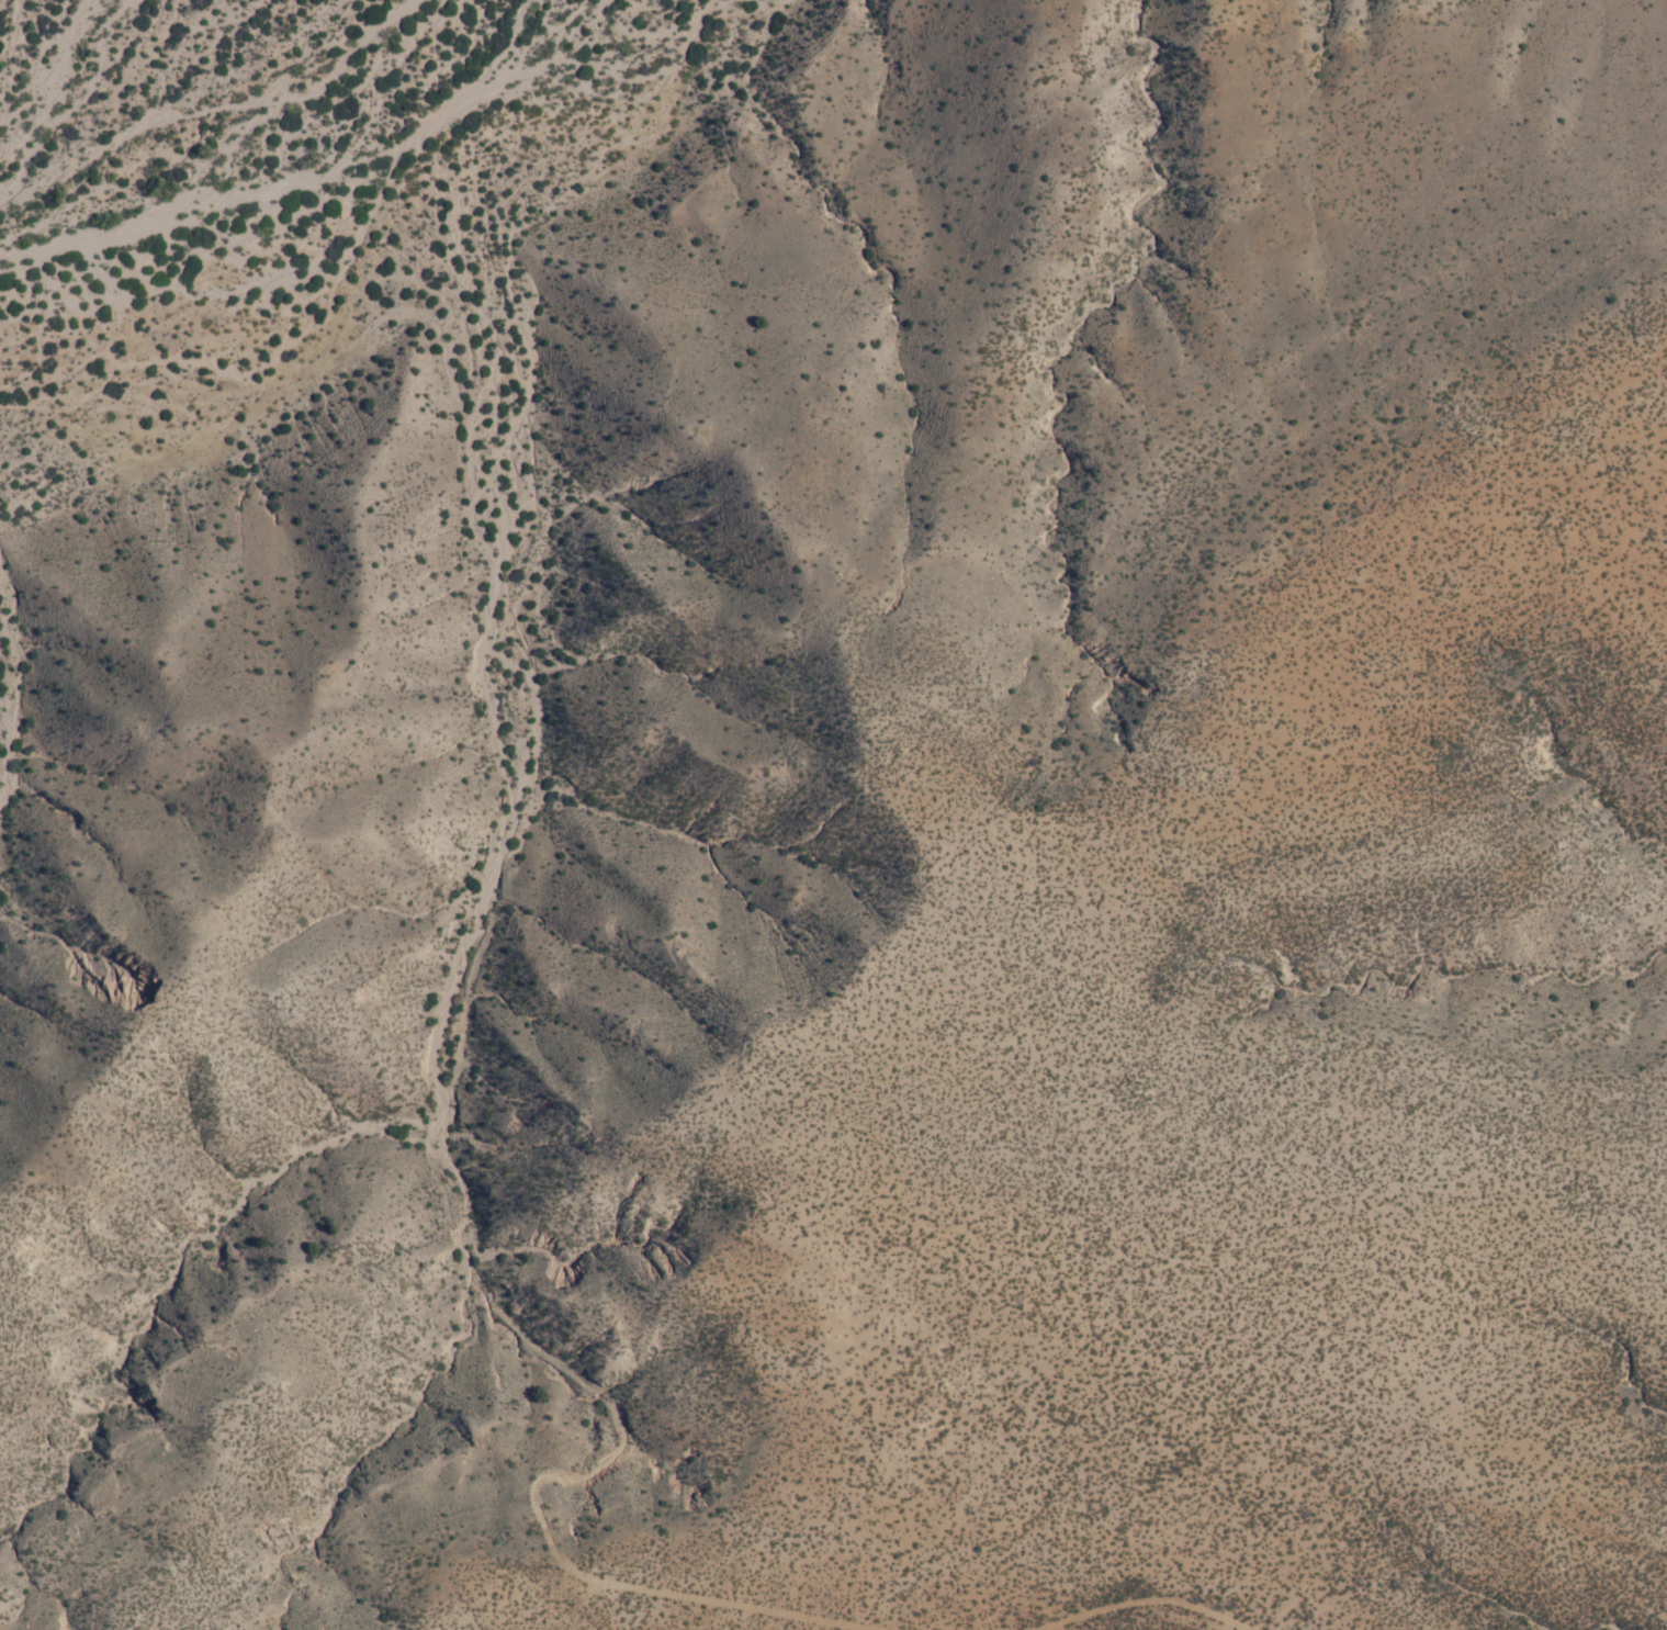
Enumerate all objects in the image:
road: (594, 1390)
road: (1144, 1601)

